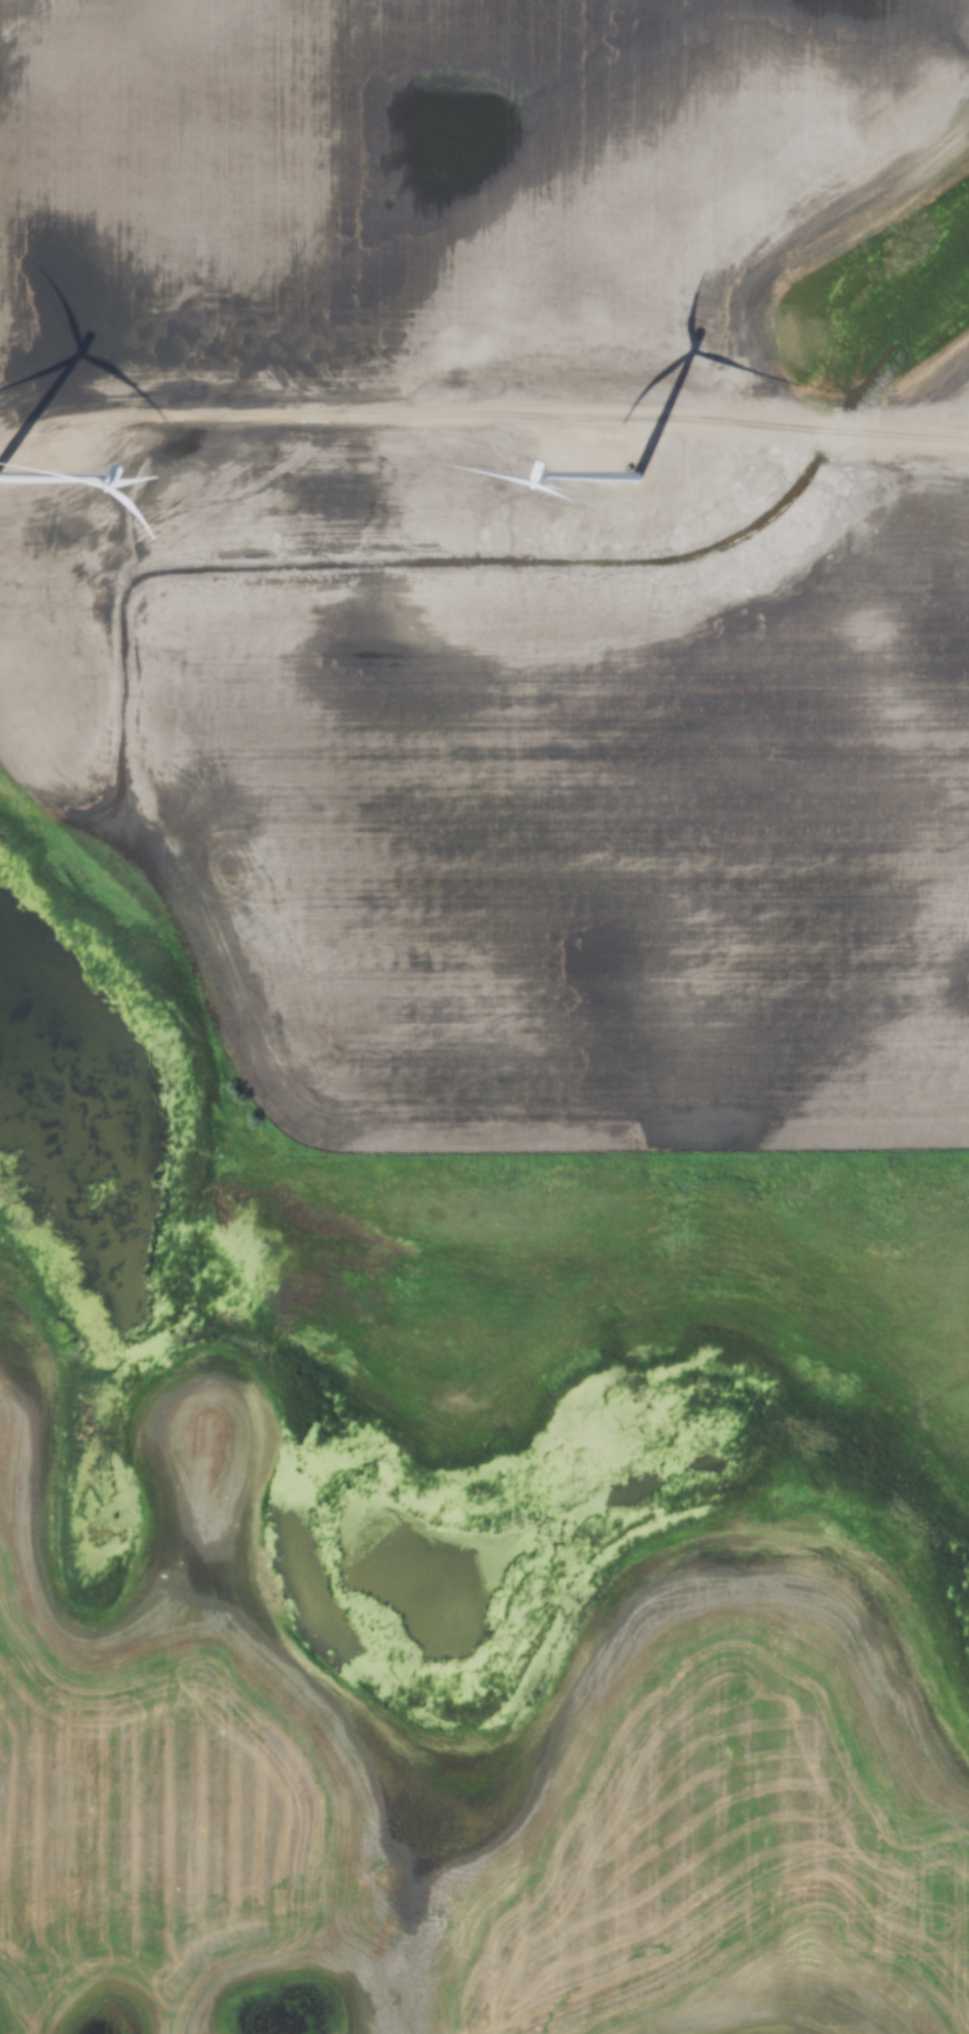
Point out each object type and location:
wind turbine: (635, 479)

